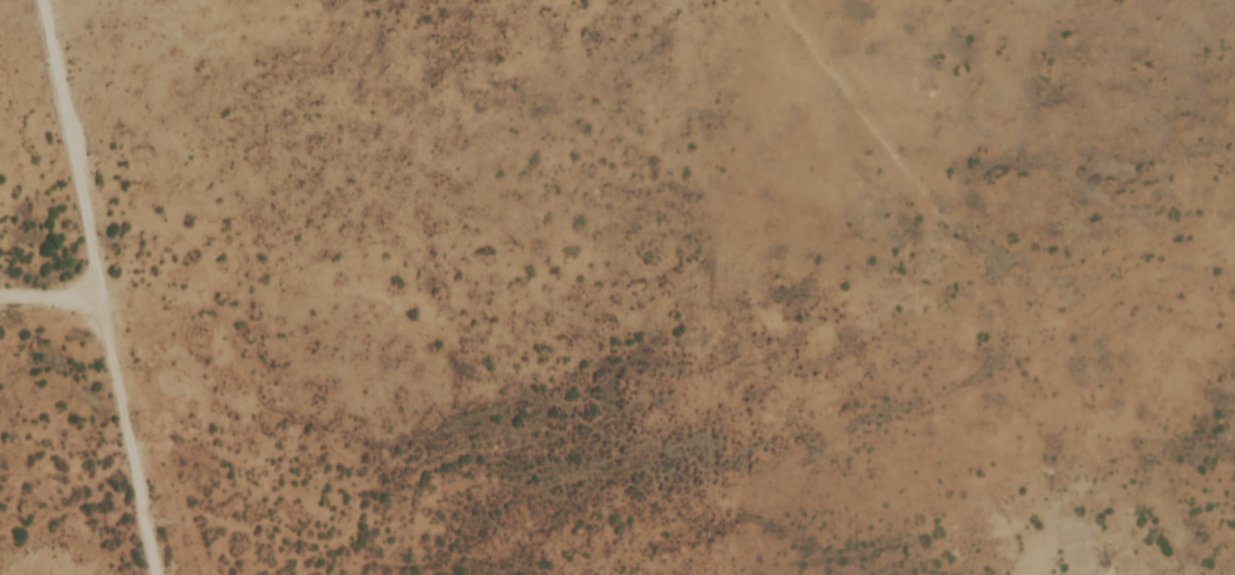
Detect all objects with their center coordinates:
road: (98, 287)

